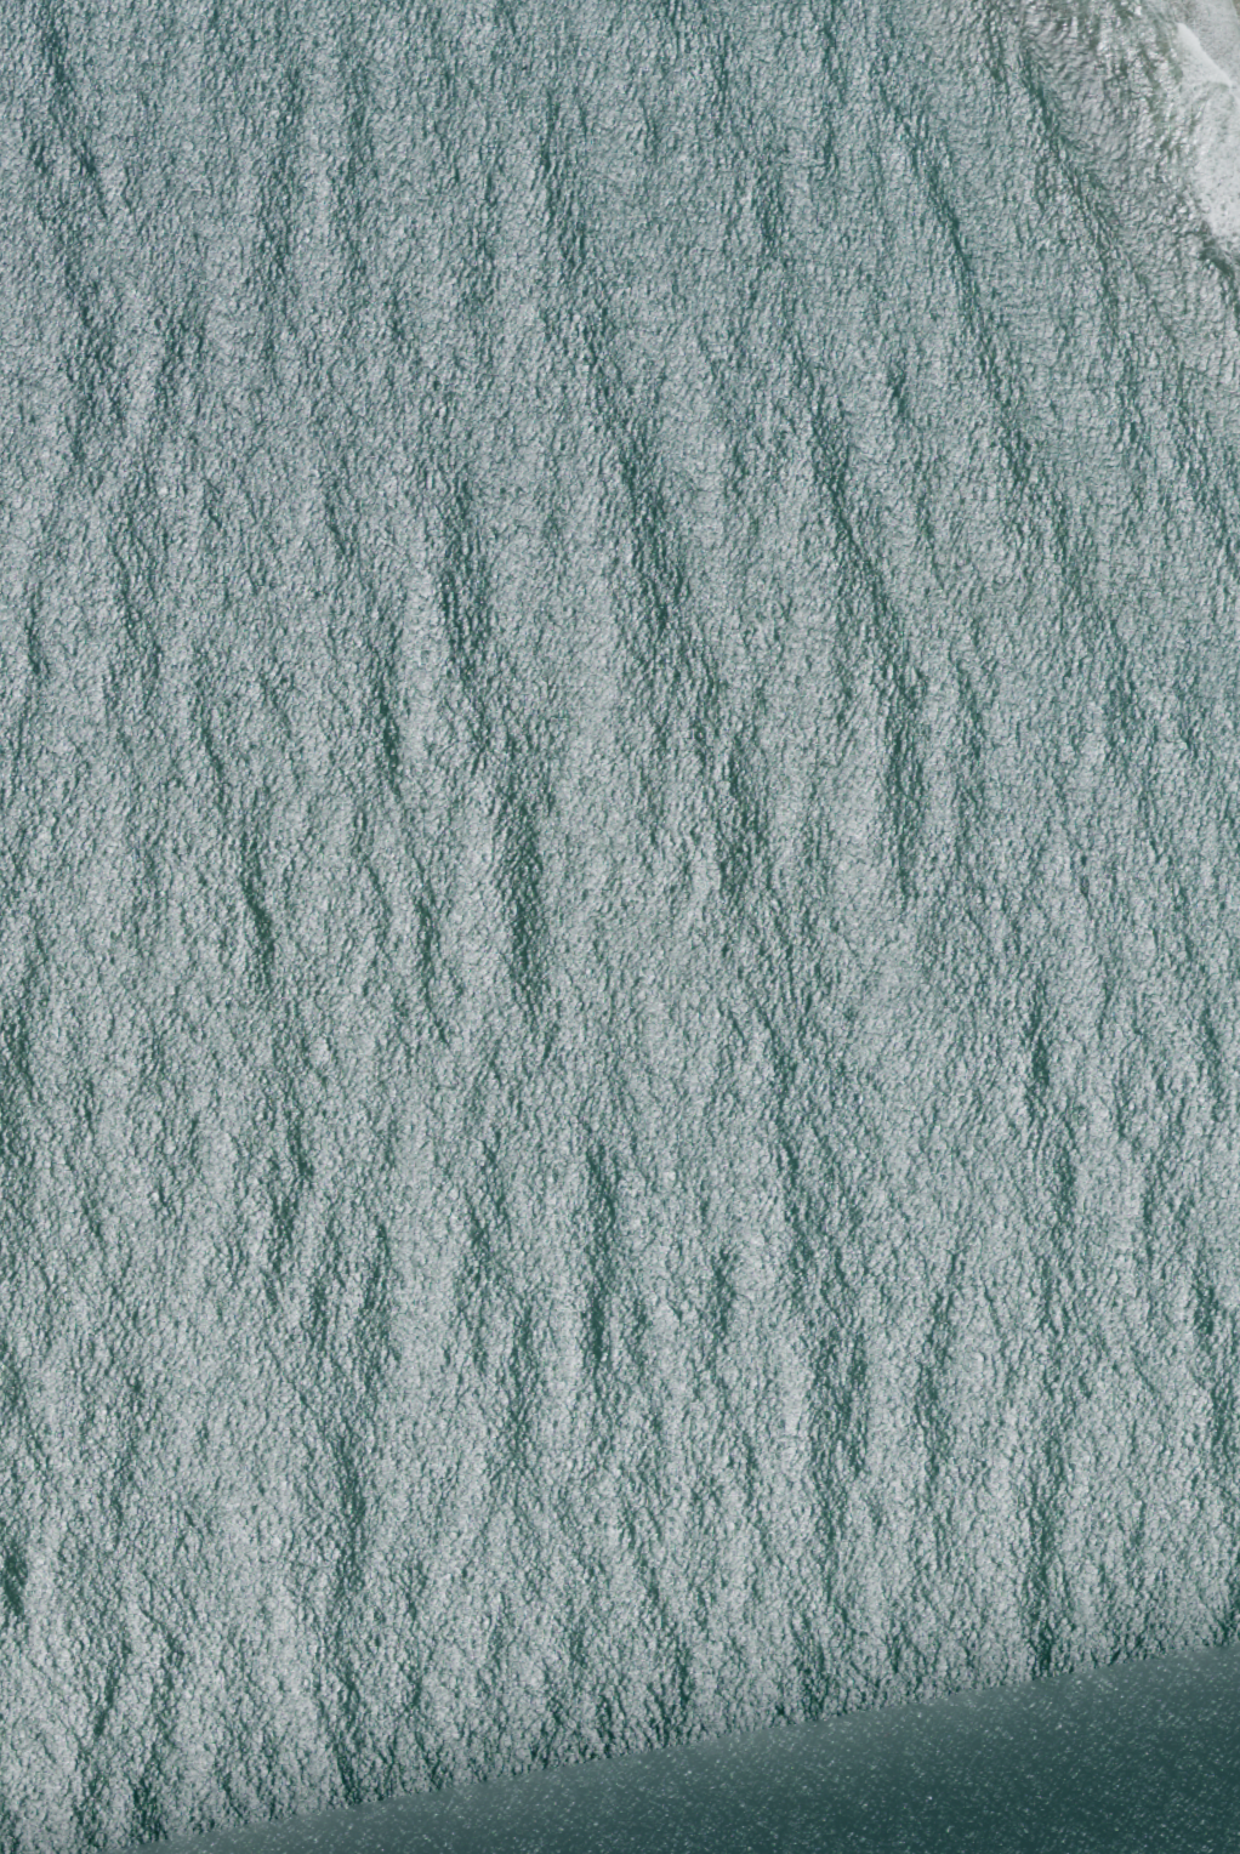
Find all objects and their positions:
park: (1236, 4)

